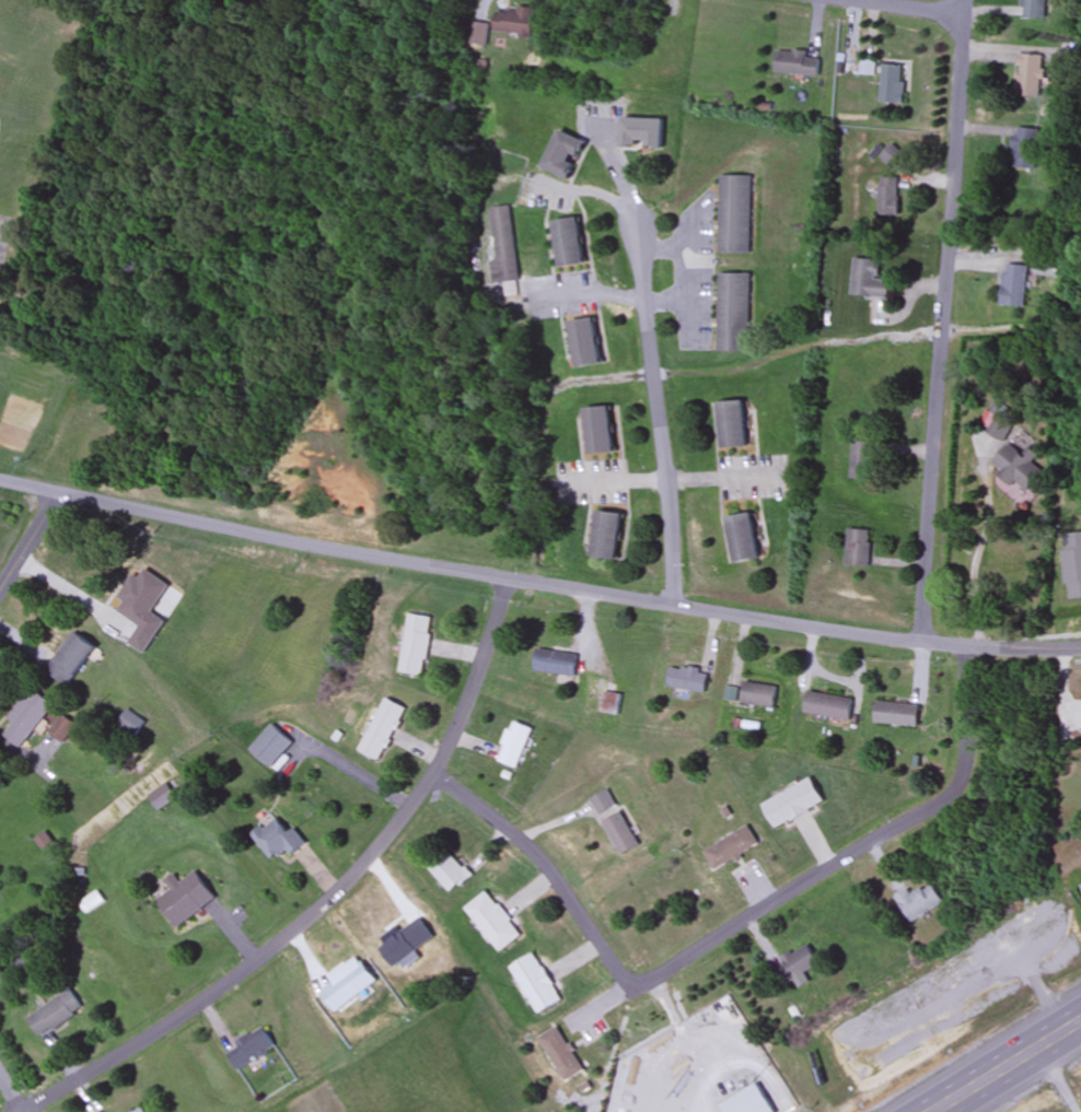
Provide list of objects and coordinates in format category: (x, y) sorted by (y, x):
road: (910, 8)
building: (1035, 9)
building: (514, 22)
road: (965, 27)
building: (477, 34)
building: (799, 65)
building: (1031, 77)
building: (893, 84)
building: (642, 133)
building: (1026, 150)
building: (565, 155)
building: (888, 197)
building: (735, 215)
park: (4, 237)
building: (570, 244)
building: (503, 246)
building: (869, 280)
building: (1014, 285)
building: (734, 314)
building: (588, 344)
road: (942, 349)
road: (661, 419)
building: (733, 425)
building: (1000, 429)
building: (601, 432)
building: (863, 461)
building: (1019, 468)
building: (608, 536)
building: (745, 537)
road: (31, 545)
building: (858, 547)
road: (537, 583)
road: (492, 634)
building: (417, 644)
building: (72, 657)
building: (555, 665)
building: (688, 679)
building: (758, 694)
building: (828, 705)
building: (897, 713)
building: (27, 716)
building: (132, 724)
building: (62, 728)
building: (384, 730)
building: (514, 744)
building: (274, 748)
building: (163, 796)
building: (604, 801)
building: (794, 805)
building: (621, 833)
building: (278, 839)
road: (861, 850)
building: (730, 851)
road: (549, 868)
building: (449, 870)
building: (186, 897)
building: (918, 901)
building: (492, 921)
road: (287, 937)
building: (793, 964)
building: (536, 983)
building: (55, 1012)
building: (251, 1049)
building: (561, 1053)
road: (1008, 1067)
road: (12, 1092)
building: (754, 1103)
building: (139, 1110)

